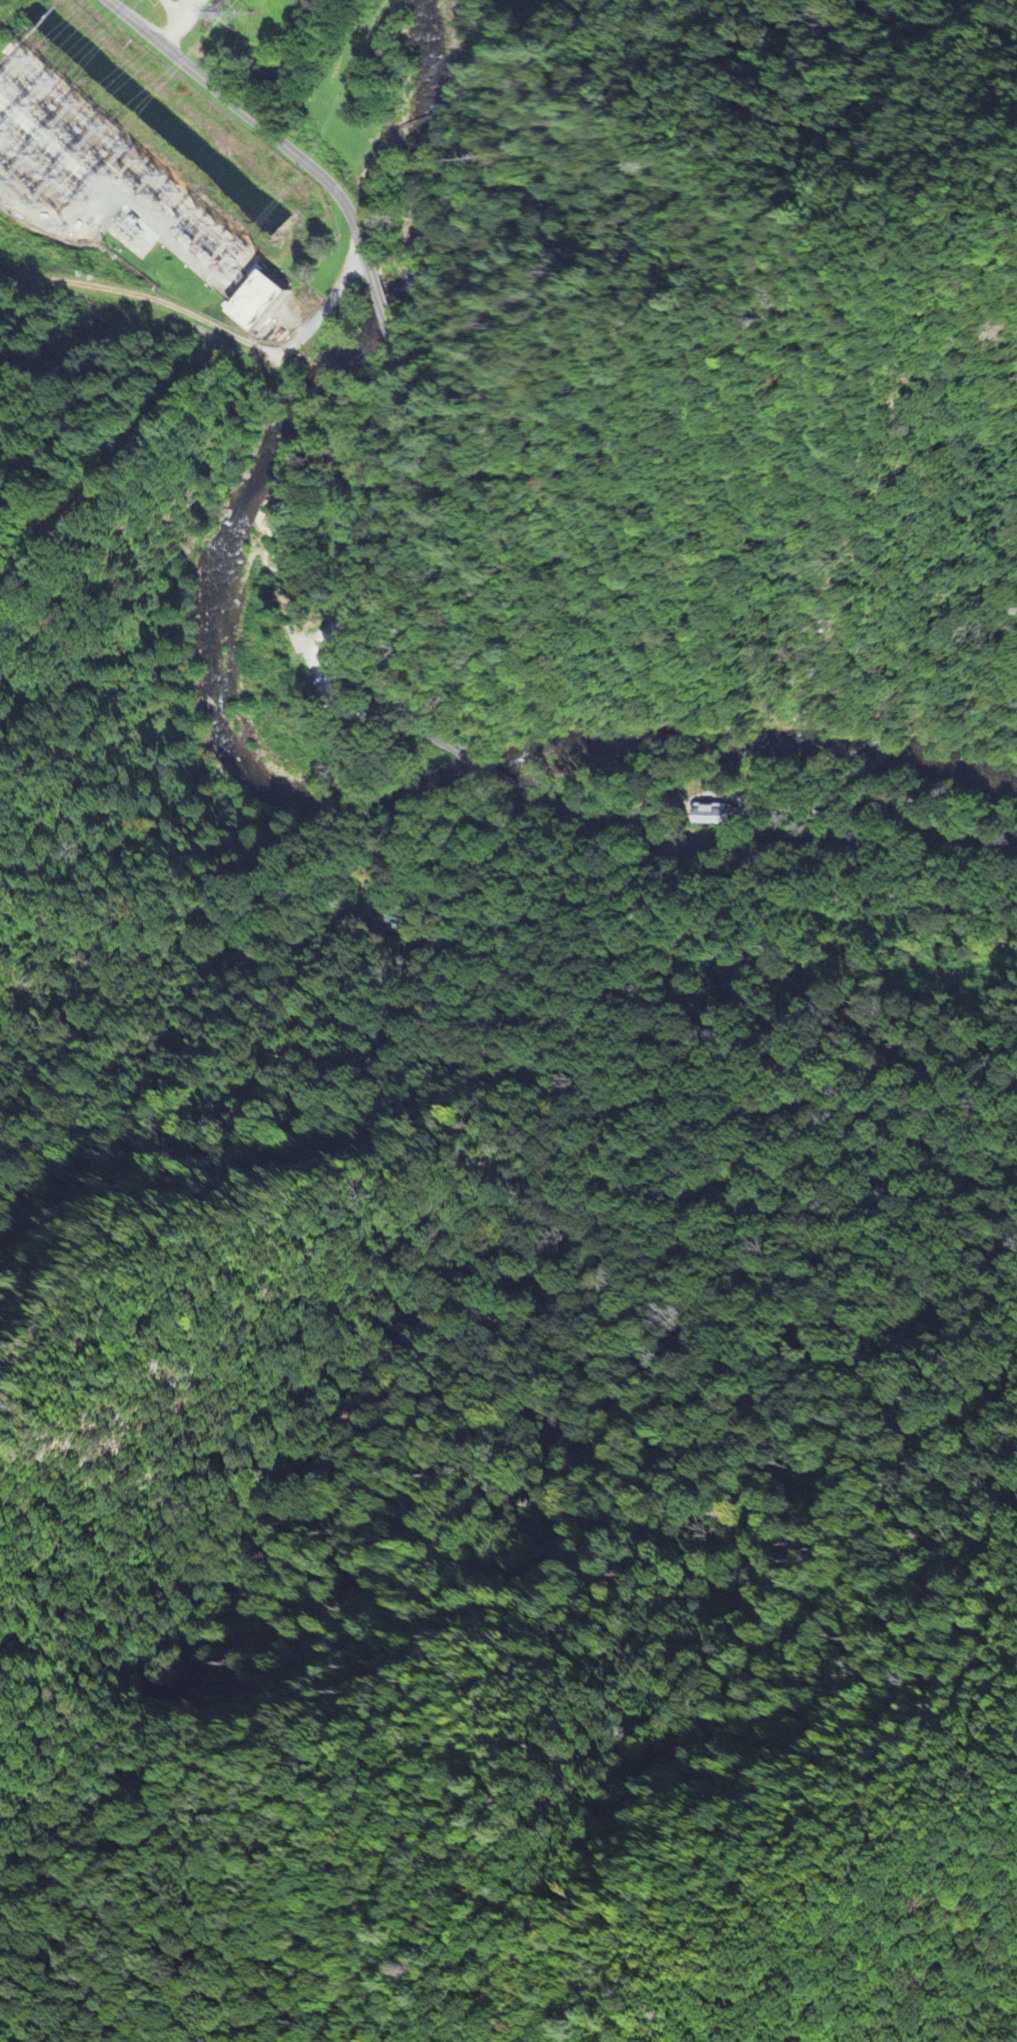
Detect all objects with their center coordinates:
road: (168, 4)
parking lot: (168, 5)
road: (159, 12)
power tower: (232, 13)
power tower: (43, 64)
road: (253, 117)
power tower: (115, 139)
road: (380, 301)
building: (251, 305)
road: (209, 322)
road: (9, 366)
river: (259, 478)
road: (343, 564)
road: (281, 586)
parking lot: (320, 668)
road: (331, 681)
river: (735, 754)
road: (497, 775)
building: (713, 817)
road: (772, 841)

